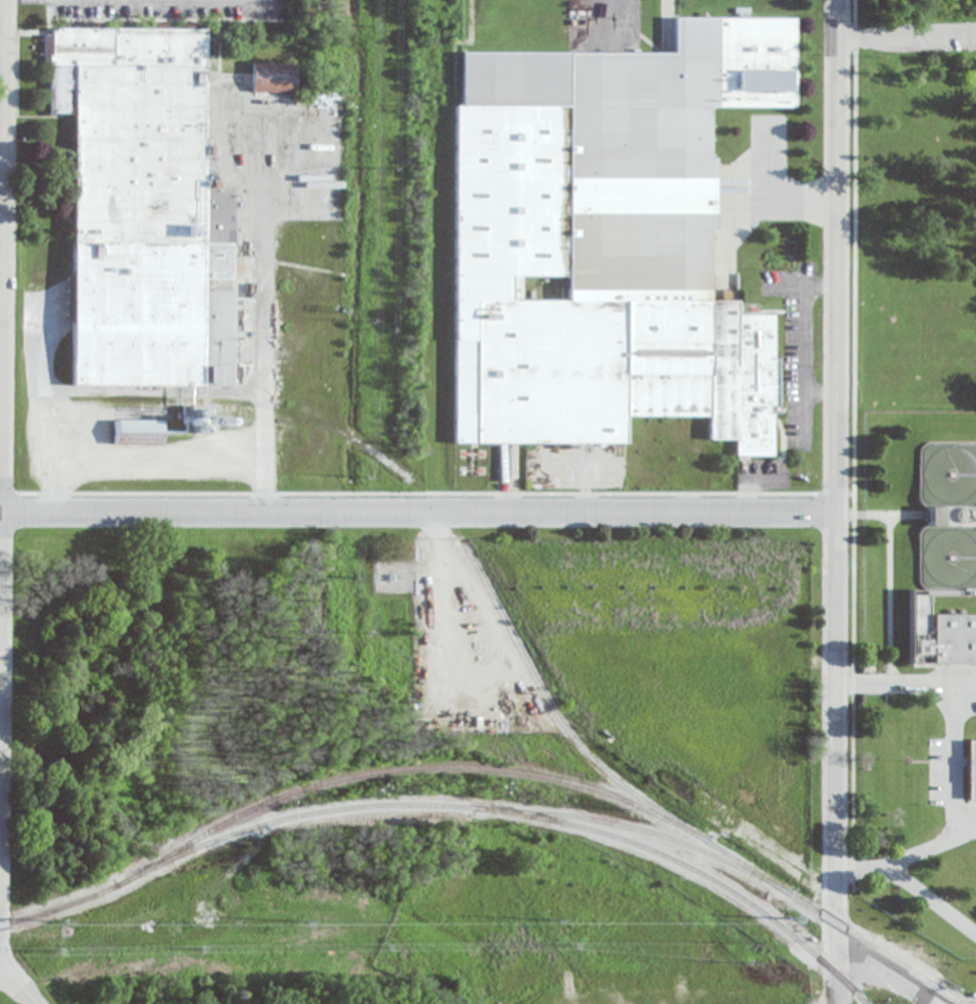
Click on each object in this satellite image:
road: (906, 27)
road: (0, 32)
building: (274, 79)
park: (913, 205)
building: (144, 210)
building: (606, 241)
road: (835, 256)
road: (803, 338)
road: (751, 483)
road: (416, 512)
railway: (444, 515)
building: (594, 555)
power substation: (394, 576)
building: (950, 640)
building: (715, 671)
wastewater plant: (913, 673)
power plant: (427, 718)
road: (833, 758)
road: (953, 763)
building: (972, 770)
railway: (538, 774)
railway: (451, 805)
railway: (654, 833)
road: (4, 970)
road: (883, 972)
road: (19, 986)
railway: (947, 994)

